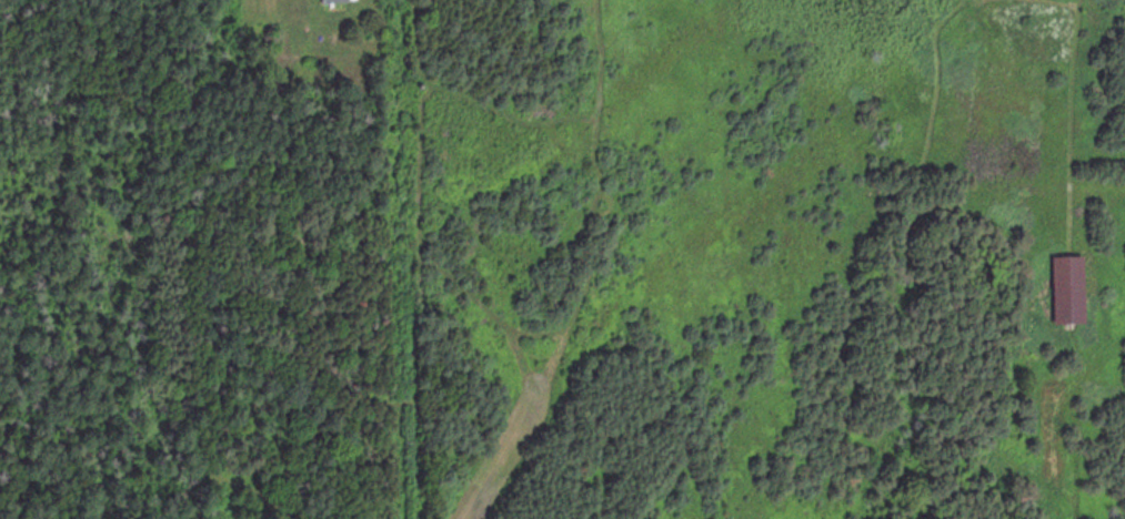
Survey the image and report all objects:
building: (341, 1)
building: (1073, 287)

